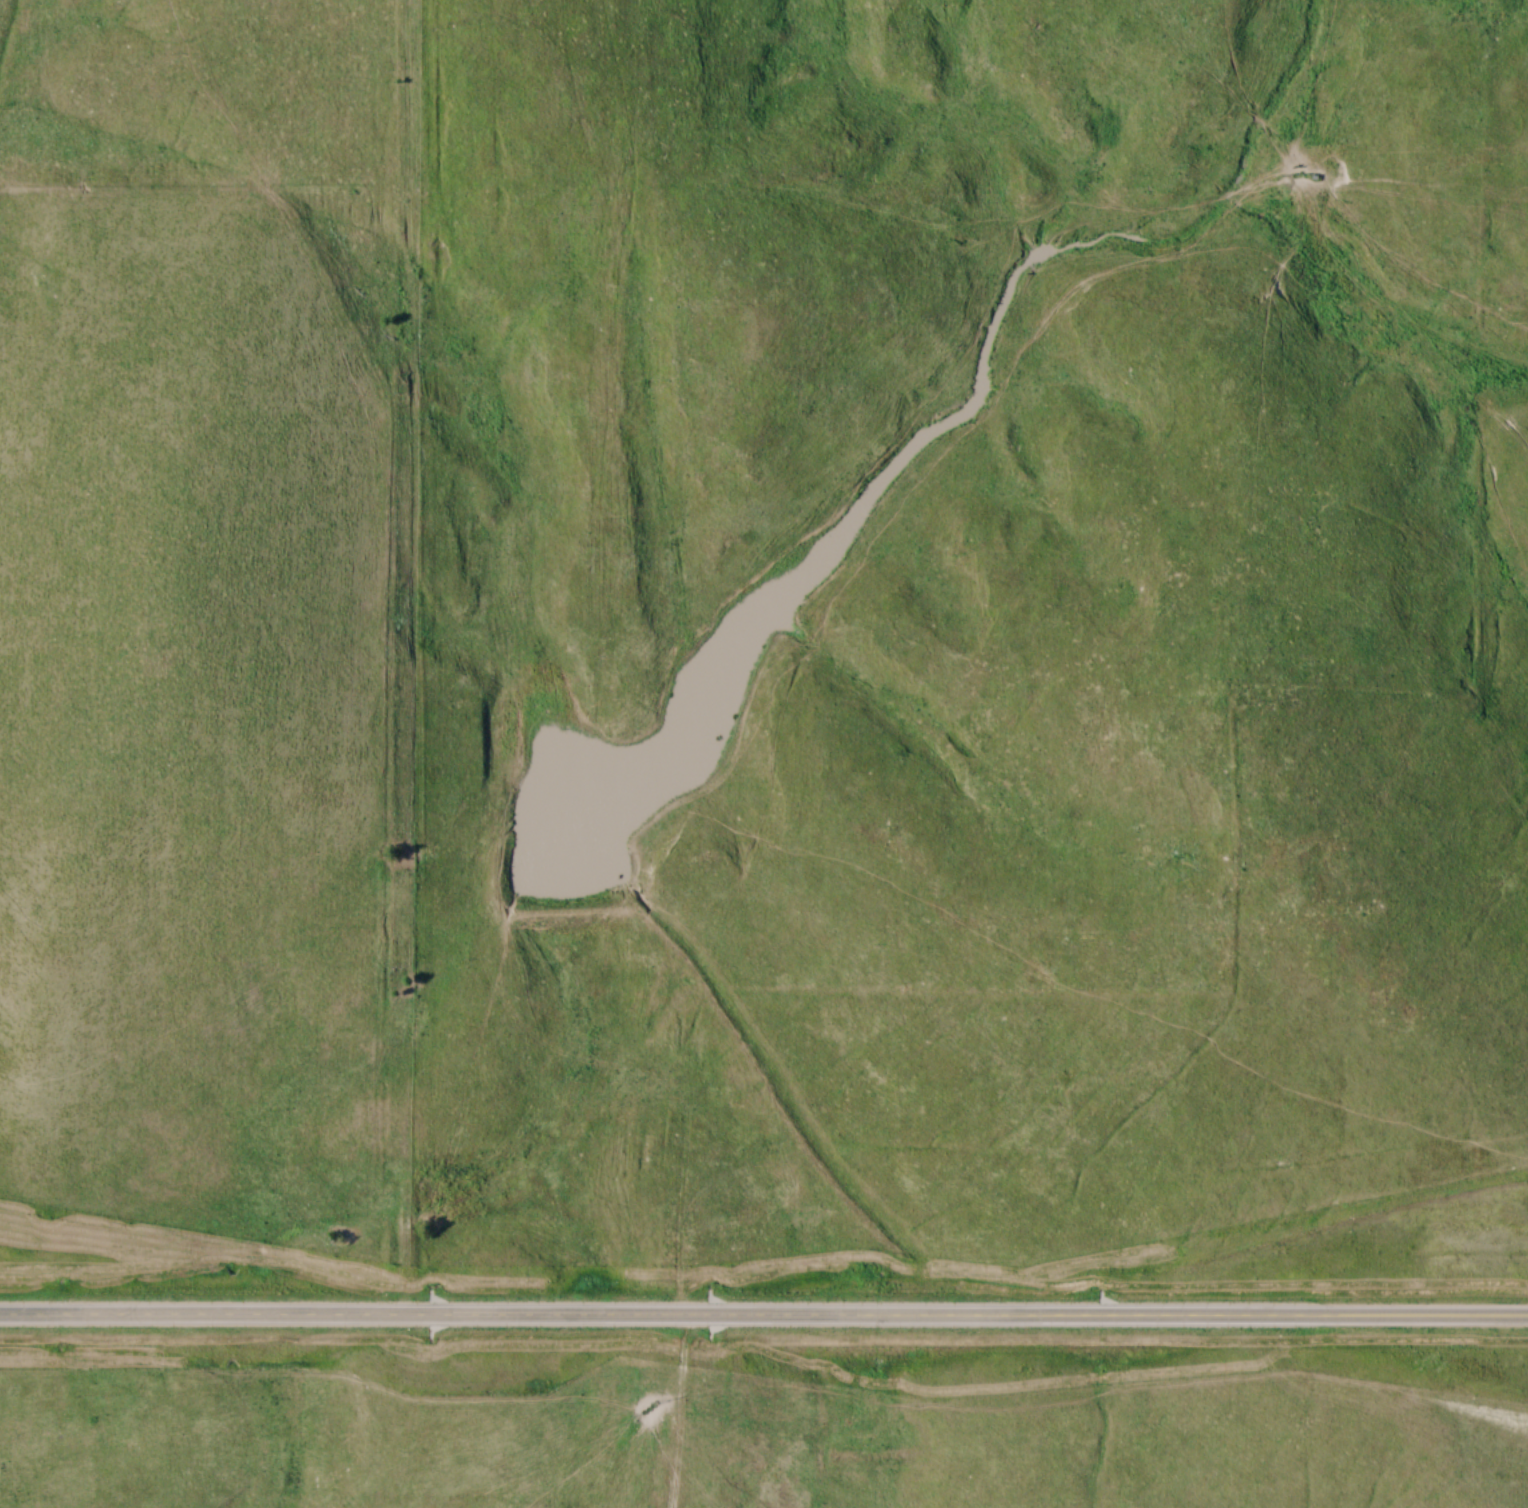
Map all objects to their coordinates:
road: (764, 1311)

